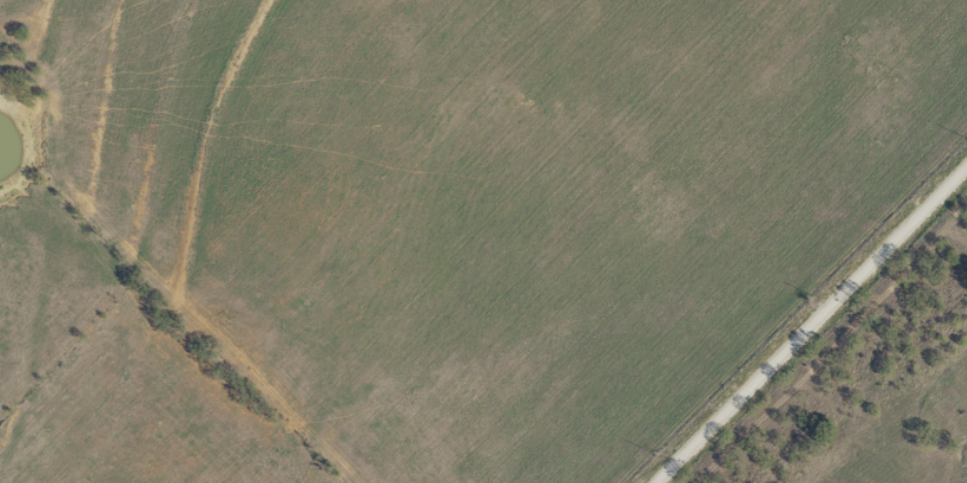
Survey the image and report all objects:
road: (806, 320)

